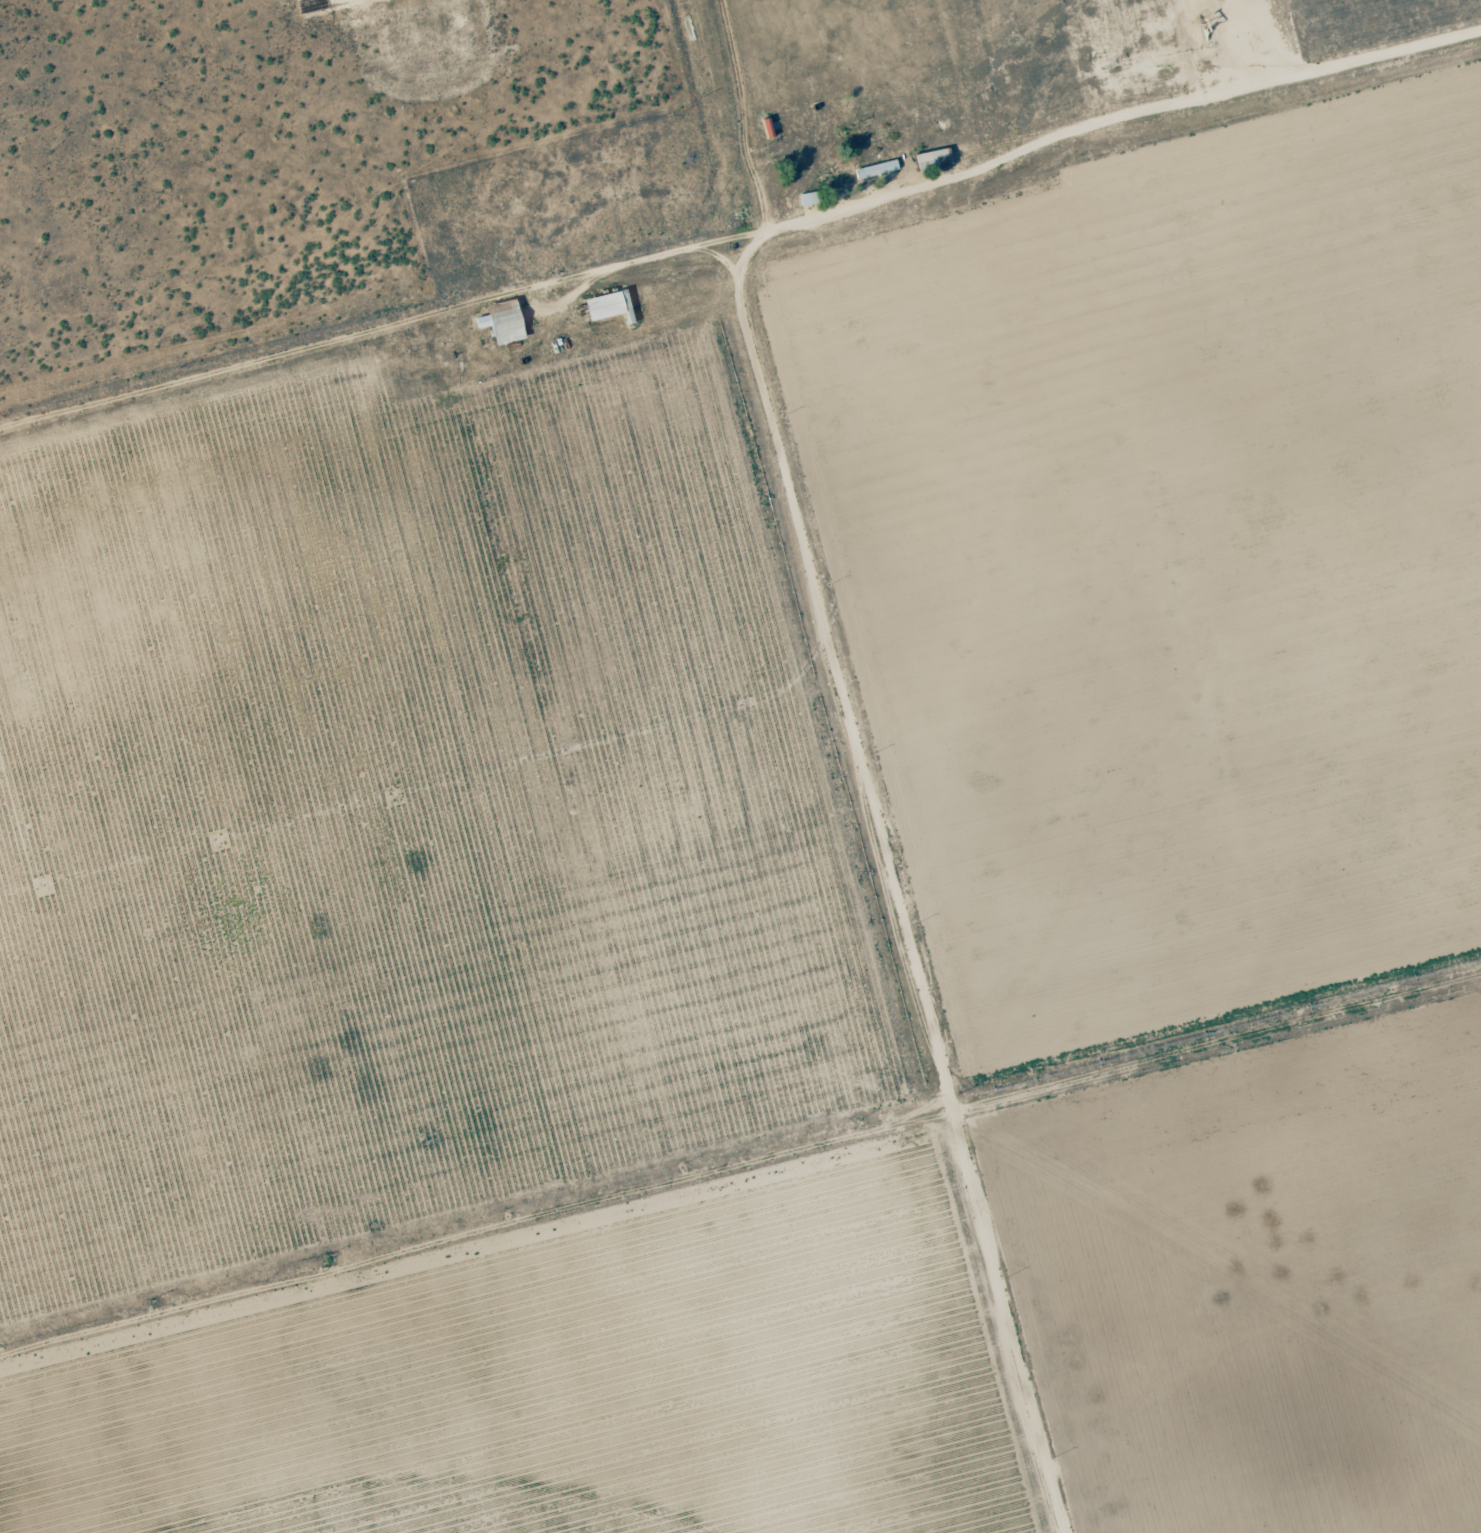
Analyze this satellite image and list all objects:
building: (600, 305)

